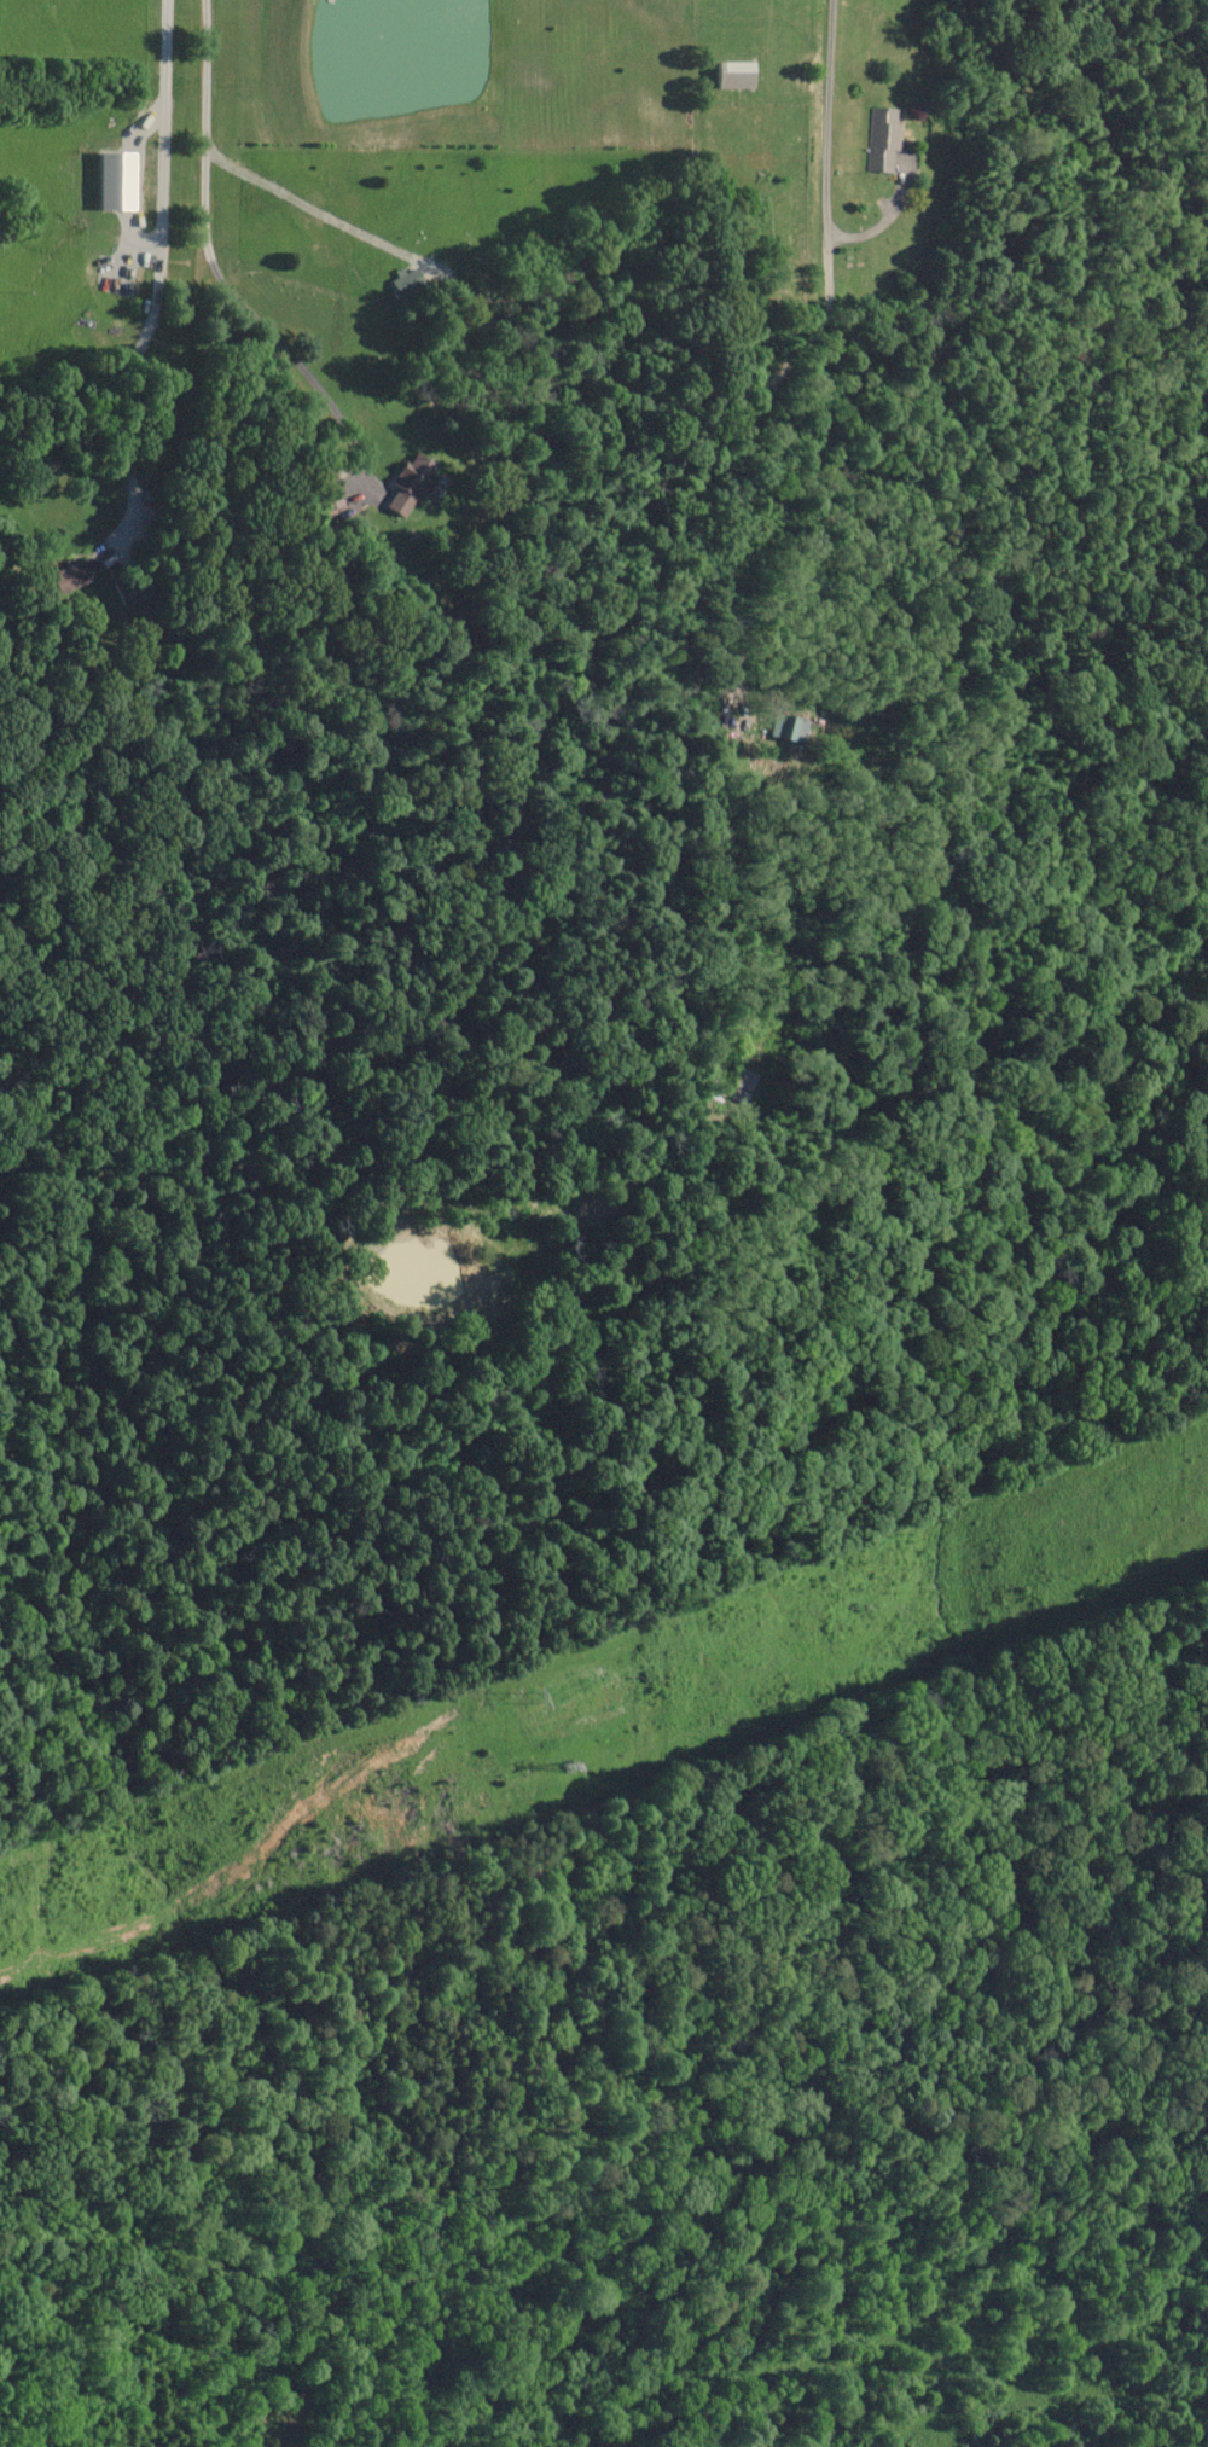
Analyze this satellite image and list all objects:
building: (734, 75)
building: (882, 140)
building: (408, 484)
building: (329, 495)
building: (70, 576)
building: (128, 592)
building: (788, 728)
building: (593, 1211)

